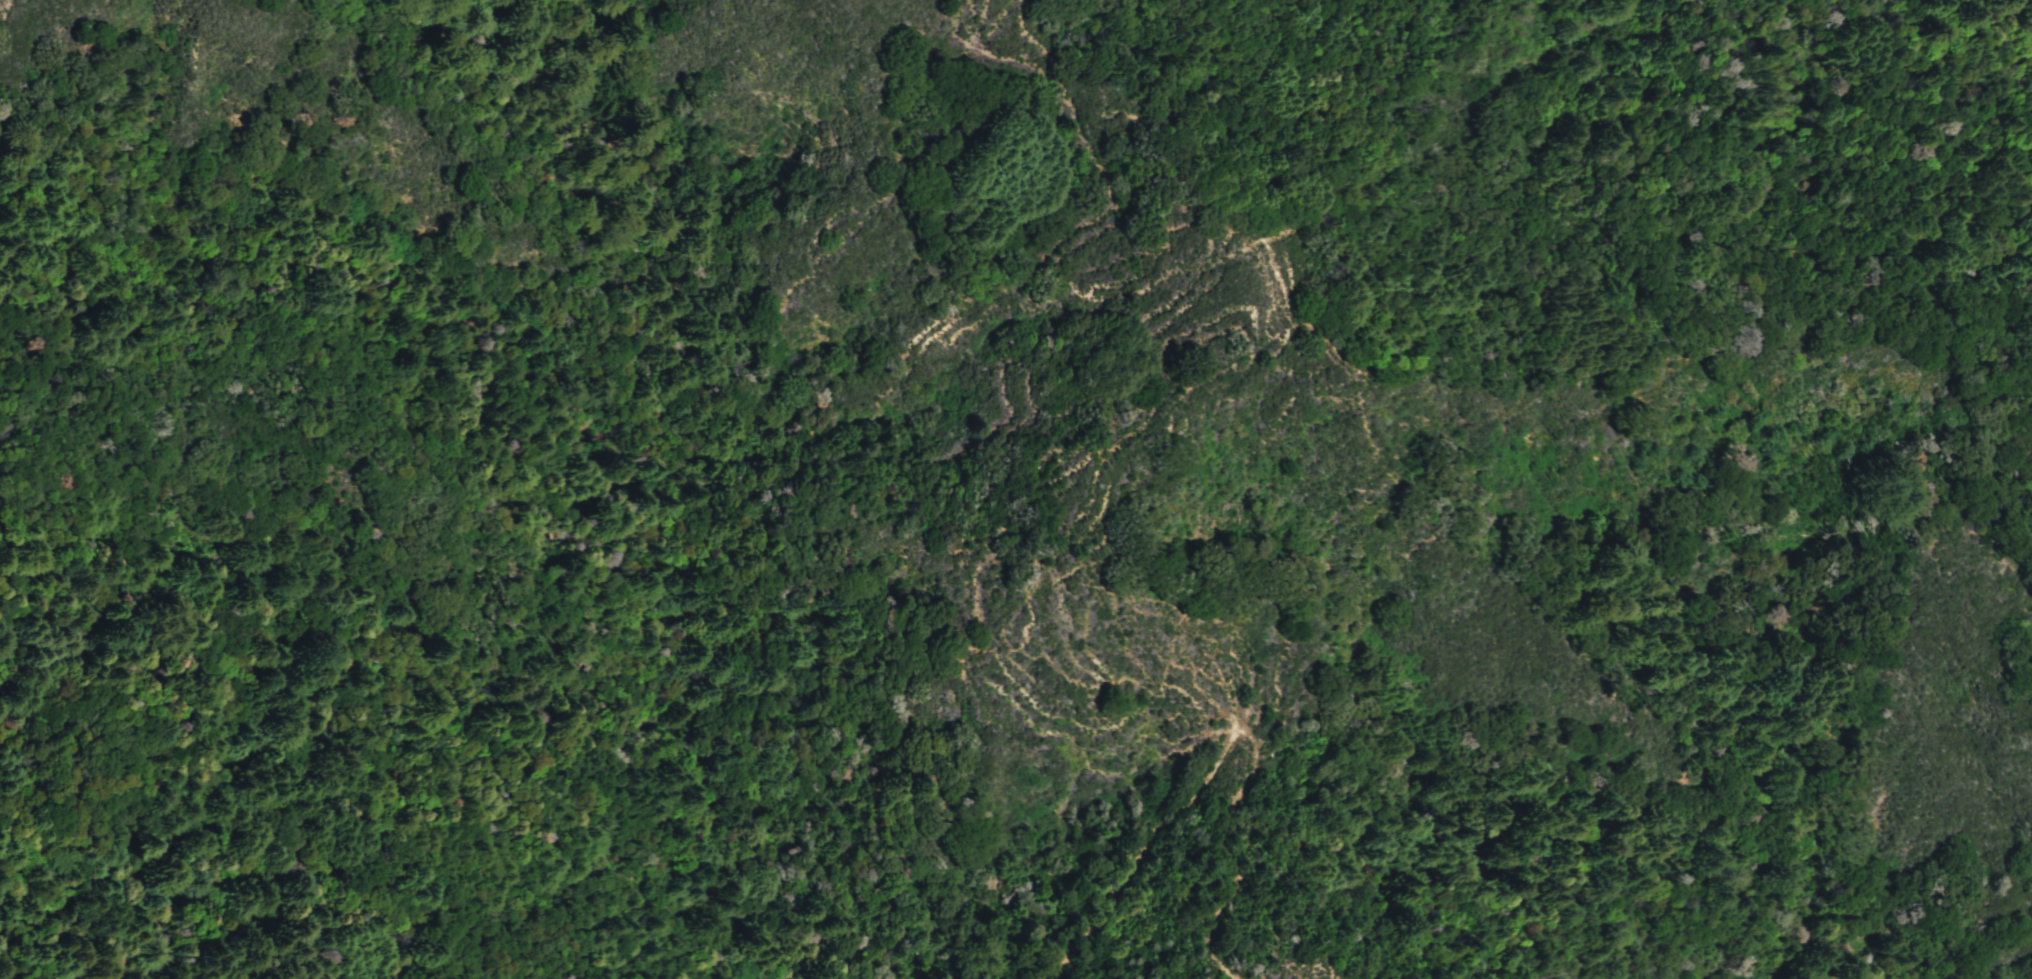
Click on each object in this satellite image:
road: (1222, 748)

